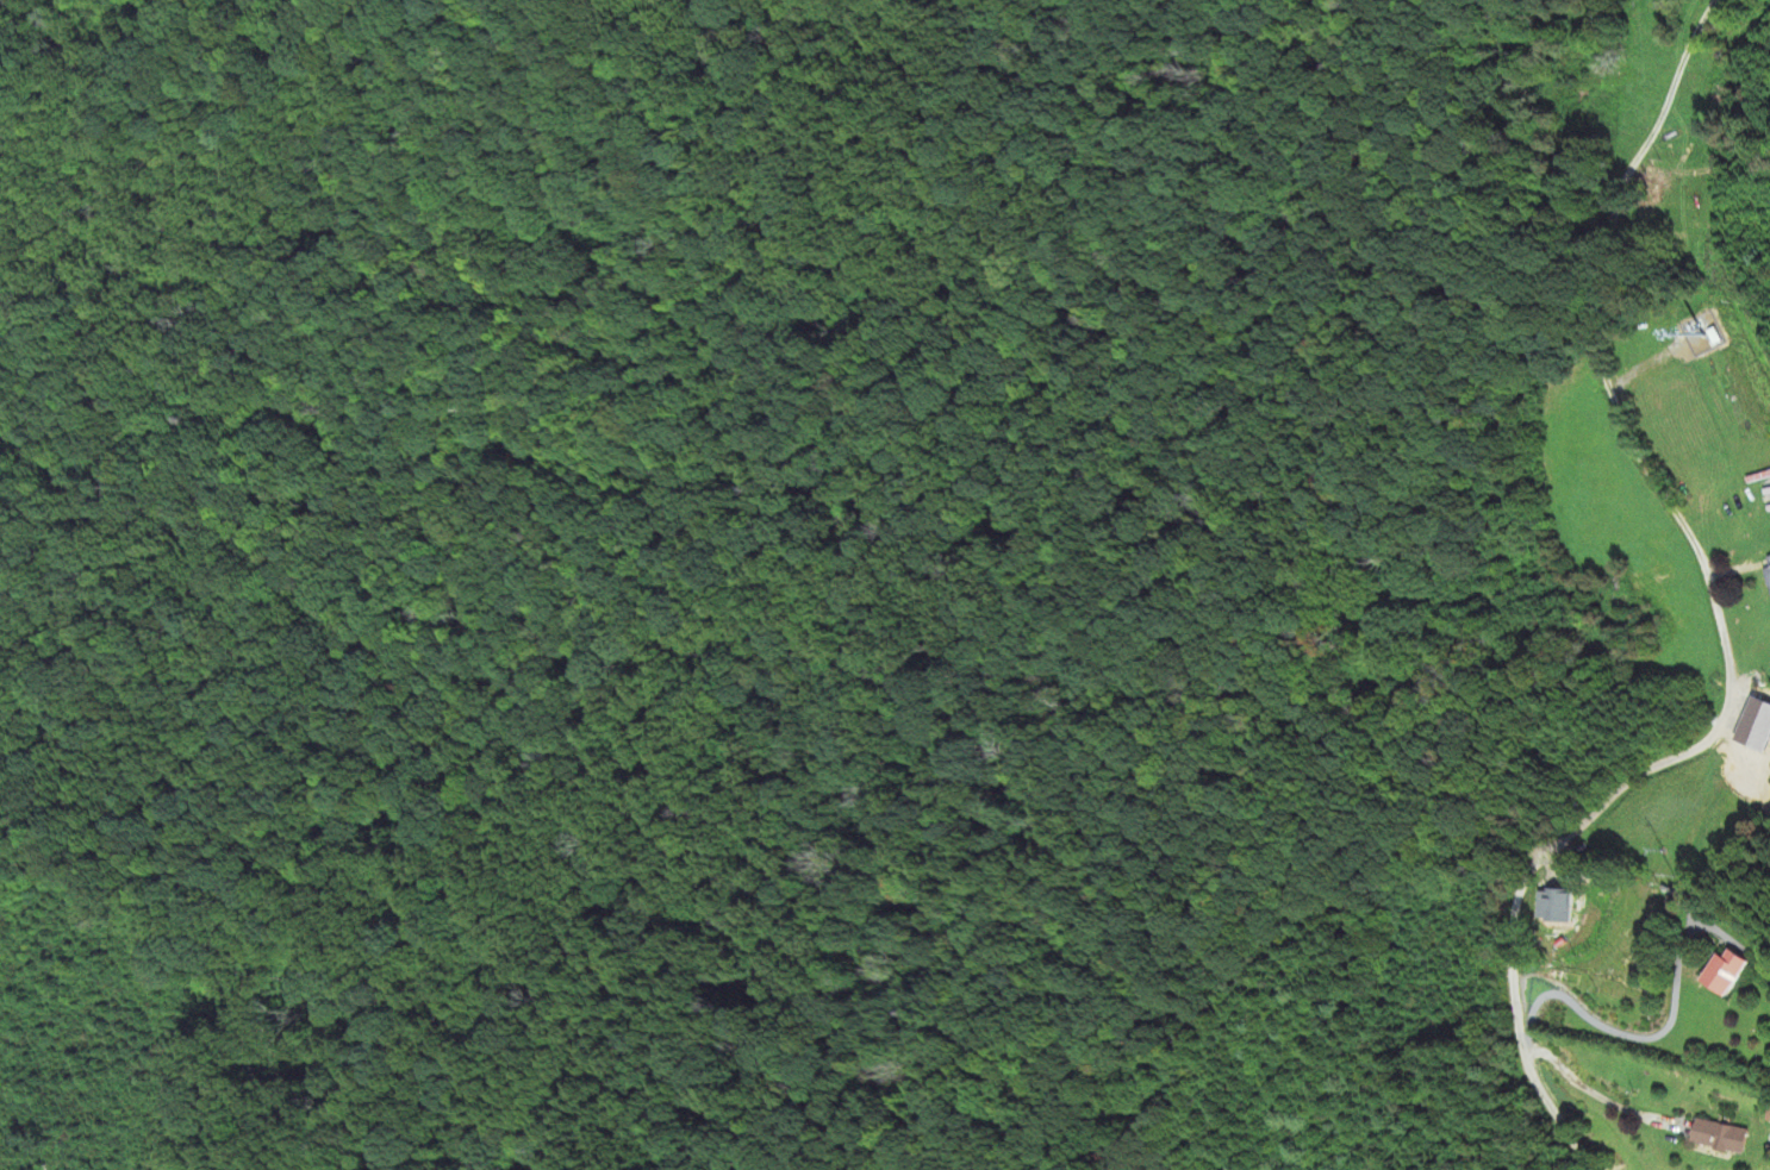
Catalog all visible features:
building: (1768, 576)
road: (1719, 618)
building: (1557, 907)
building: (1738, 972)
road: (1659, 1037)
road: (1600, 1097)
building: (1722, 1138)

